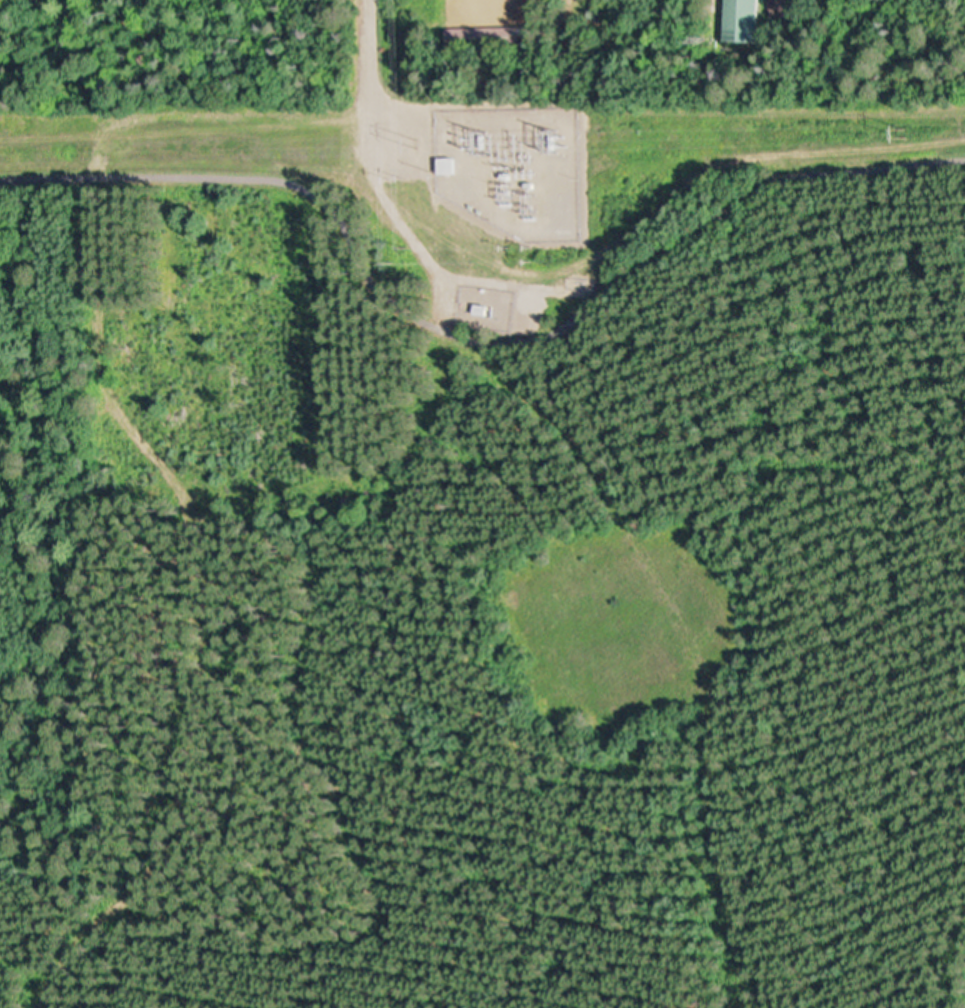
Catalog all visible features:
building: (777, 6)
building: (747, 21)
building: (484, 40)
power tower: (905, 130)
power tower: (477, 139)
power tower: (556, 140)
building: (449, 167)
power substation: (514, 167)
building: (564, 218)
building: (479, 308)
road: (475, 345)

